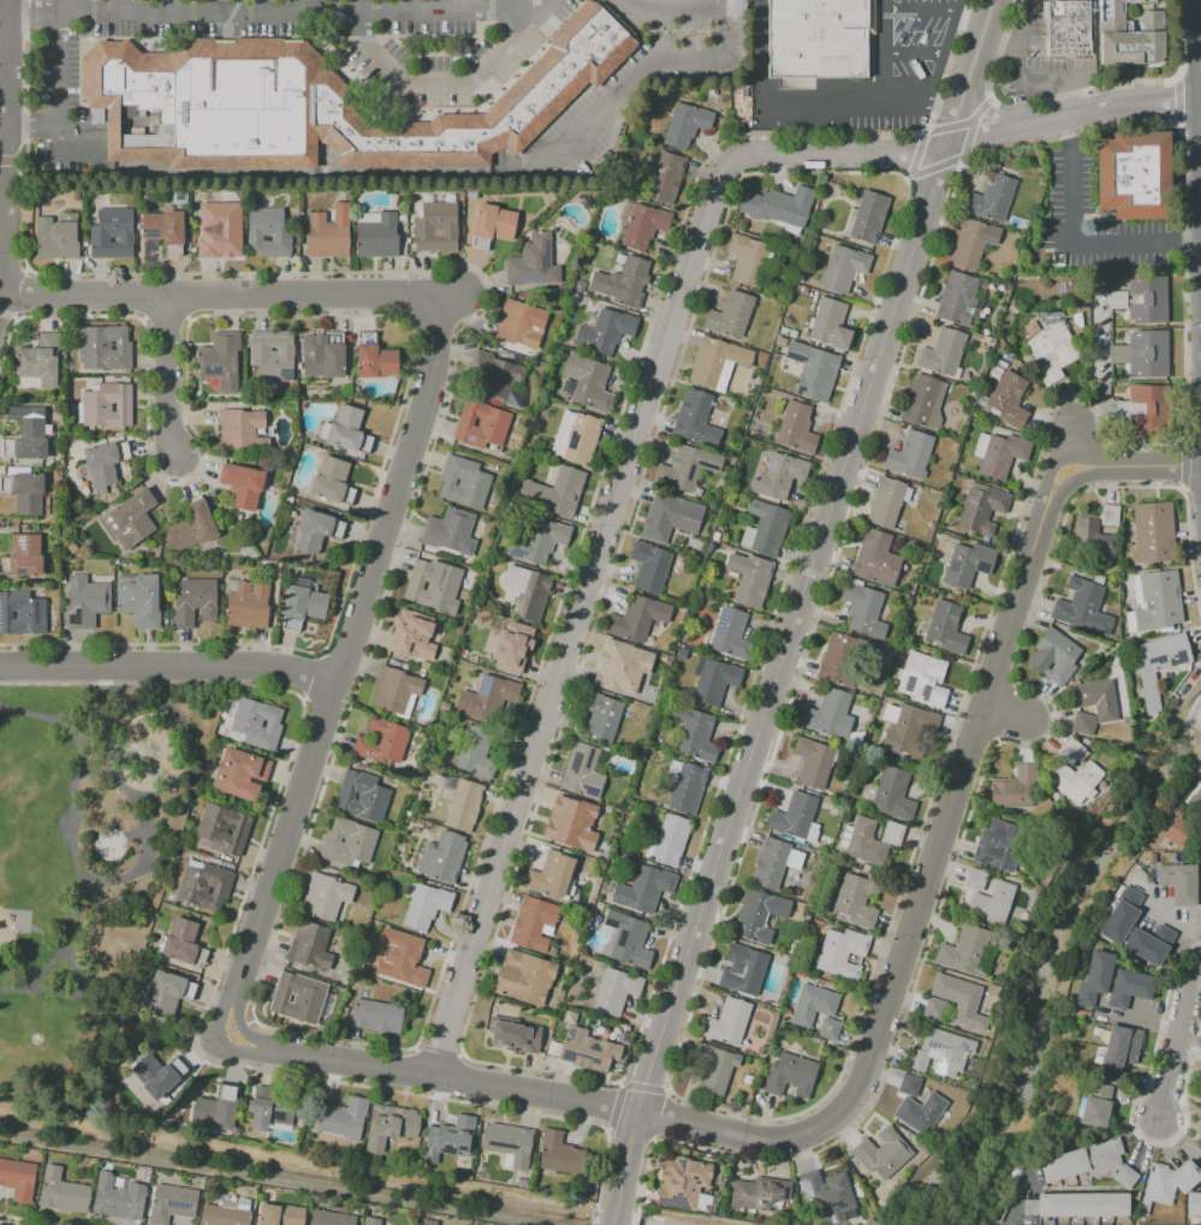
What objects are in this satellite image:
road: (503, 5)
road: (522, 5)
road: (357, 6)
road: (403, 6)
road: (121, 7)
road: (168, 7)
road: (215, 7)
road: (263, 7)
road: (310, 7)
road: (1197, 7)
road: (530, 10)
road: (672, 11)
road: (920, 11)
road: (251, 14)
building: (1068, 28)
building: (1130, 34)
building: (820, 38)
road: (1178, 38)
road: (997, 46)
road: (882, 50)
road: (943, 50)
road: (912, 54)
parking lot: (908, 57)
road: (1199, 58)
road: (638, 71)
parking lot: (433, 72)
road: (1017, 73)
road: (434, 77)
road: (1176, 77)
parking lot: (642, 79)
road: (59, 100)
road: (1177, 100)
road: (1200, 102)
road: (808, 103)
building: (319, 105)
building: (685, 124)
road: (1176, 124)
road: (2, 131)
road: (1070, 133)
road: (965, 141)
road: (1200, 149)
building: (1134, 173)
building: (665, 177)
building: (470, 192)
building: (992, 198)
building: (778, 206)
building: (869, 216)
building: (436, 225)
building: (492, 225)
building: (643, 226)
building: (216, 228)
building: (163, 230)
building: (267, 232)
building: (328, 232)
building: (112, 233)
building: (377, 236)
building: (58, 237)
building: (971, 243)
road: (1089, 245)
building: (748, 258)
building: (533, 262)
building: (843, 268)
building: (623, 281)
road: (1182, 284)
road: (226, 293)
building: (956, 297)
building: (1114, 299)
building: (1147, 299)
building: (730, 314)
building: (519, 323)
building: (830, 323)
building: (604, 331)
building: (103, 347)
building: (941, 351)
building: (1053, 351)
building: (1142, 353)
building: (272, 355)
building: (219, 357)
building: (326, 357)
building: (374, 357)
building: (715, 359)
building: (37, 363)
road: (166, 370)
building: (813, 370)
building: (493, 375)
building: (588, 381)
building: (965, 393)
building: (1009, 399)
building: (922, 400)
building: (106, 405)
building: (1146, 408)
building: (695, 418)
building: (481, 426)
building: (796, 427)
building: (349, 429)
building: (242, 430)
road: (1071, 433)
building: (575, 438)
building: (26, 441)
building: (910, 453)
building: (999, 453)
road: (1058, 459)
building: (103, 463)
road: (1184, 464)
road: (1157, 465)
building: (686, 468)
building: (781, 475)
building: (331, 480)
building: (463, 481)
road: (1071, 483)
building: (243, 484)
road: (1182, 489)
building: (24, 490)
road: (393, 490)
building: (554, 492)
building: (886, 501)
building: (981, 507)
building: (662, 516)
building: (1108, 516)
building: (130, 518)
building: (195, 524)
building: (315, 529)
building: (765, 529)
building: (450, 531)
building: (1153, 531)
building: (1090, 536)
building: (536, 539)
building: (25, 554)
building: (875, 557)
road: (1188, 557)
building: (968, 563)
building: (649, 566)
building: (753, 582)
building: (430, 585)
building: (527, 591)
building: (138, 600)
building: (1159, 600)
building: (85, 601)
building: (194, 601)
building: (245, 603)
road: (802, 605)
building: (302, 606)
building: (1082, 607)
building: (863, 608)
building: (20, 613)
road: (579, 616)
building: (637, 618)
building: (946, 626)
building: (730, 634)
building: (412, 635)
building: (515, 647)
building: (842, 656)
building: (1056, 656)
road: (168, 662)
building: (611, 664)
building: (1158, 664)
building: (920, 670)
building: (715, 682)
building: (394, 690)
building: (928, 692)
building: (487, 697)
building: (1098, 698)
road: (1009, 710)
building: (830, 714)
building: (601, 715)
road: (141, 716)
building: (256, 724)
building: (1082, 724)
building: (908, 726)
building: (695, 733)
road: (191, 739)
building: (382, 743)
building: (475, 751)
building: (1071, 751)
building: (813, 761)
building: (582, 772)
building: (238, 774)
building: (1075, 780)
building: (686, 787)
building: (1016, 790)
building: (893, 793)
building: (361, 796)
building: (1195, 799)
building: (462, 802)
building: (796, 816)
building: (572, 823)
building: (1181, 827)
building: (224, 828)
road: (285, 828)
road: (145, 831)
building: (891, 832)
road: (133, 833)
road: (69, 836)
building: (670, 839)
building: (346, 842)
building: (864, 842)
building: (999, 845)
building: (442, 856)
park: (82, 860)
building: (774, 862)
building: (551, 875)
building: (975, 879)
building: (1178, 881)
building: (1200, 884)
building: (204, 886)
building: (643, 888)
building: (325, 896)
building: (856, 899)
building: (991, 903)
building: (426, 905)
building: (759, 914)
building: (1122, 914)
building: (533, 922)
road: (1178, 922)
road: (43, 934)
building: (626, 939)
building: (183, 942)
building: (1148, 944)
building: (309, 945)
building: (964, 951)
building: (842, 952)
building: (408, 962)
building: (747, 968)
building: (524, 977)
building: (1094, 979)
building: (1130, 988)
building: (167, 992)
building: (616, 992)
road: (72, 995)
road: (237, 998)
building: (296, 998)
building: (961, 998)
building: (813, 1004)
building: (934, 1007)
road: (220, 1009)
building: (377, 1015)
building: (727, 1021)
road: (1137, 1021)
building: (828, 1028)
road: (153, 1035)
building: (516, 1037)
road: (1175, 1037)
road: (258, 1041)
building: (1120, 1047)
building: (588, 1049)
building: (939, 1051)
road: (246, 1053)
building: (712, 1068)
building: (160, 1075)
building: (790, 1075)
building: (908, 1084)
road: (856, 1088)
building: (1200, 1098)
building: (270, 1106)
building: (1095, 1106)
building: (216, 1108)
building: (920, 1112)
building: (343, 1117)
building: (390, 1125)
building: (1200, 1132)
building: (448, 1138)
road: (1179, 1141)
building: (507, 1142)
road: (1083, 1142)
building: (559, 1153)
building: (882, 1154)
building: (1089, 1162)
building: (18, 1179)
building: (683, 1183)
building: (1166, 1183)
building: (63, 1193)
building: (759, 1193)
building: (830, 1194)
building: (118, 1197)
building: (172, 1203)
building: (1194, 1203)
building: (1082, 1205)
building: (1028, 1206)
building: (226, 1214)
building: (280, 1214)
building: (331, 1218)
road: (613, 1218)
building: (371, 1220)
building: (428, 1221)
road: (612, 1224)

